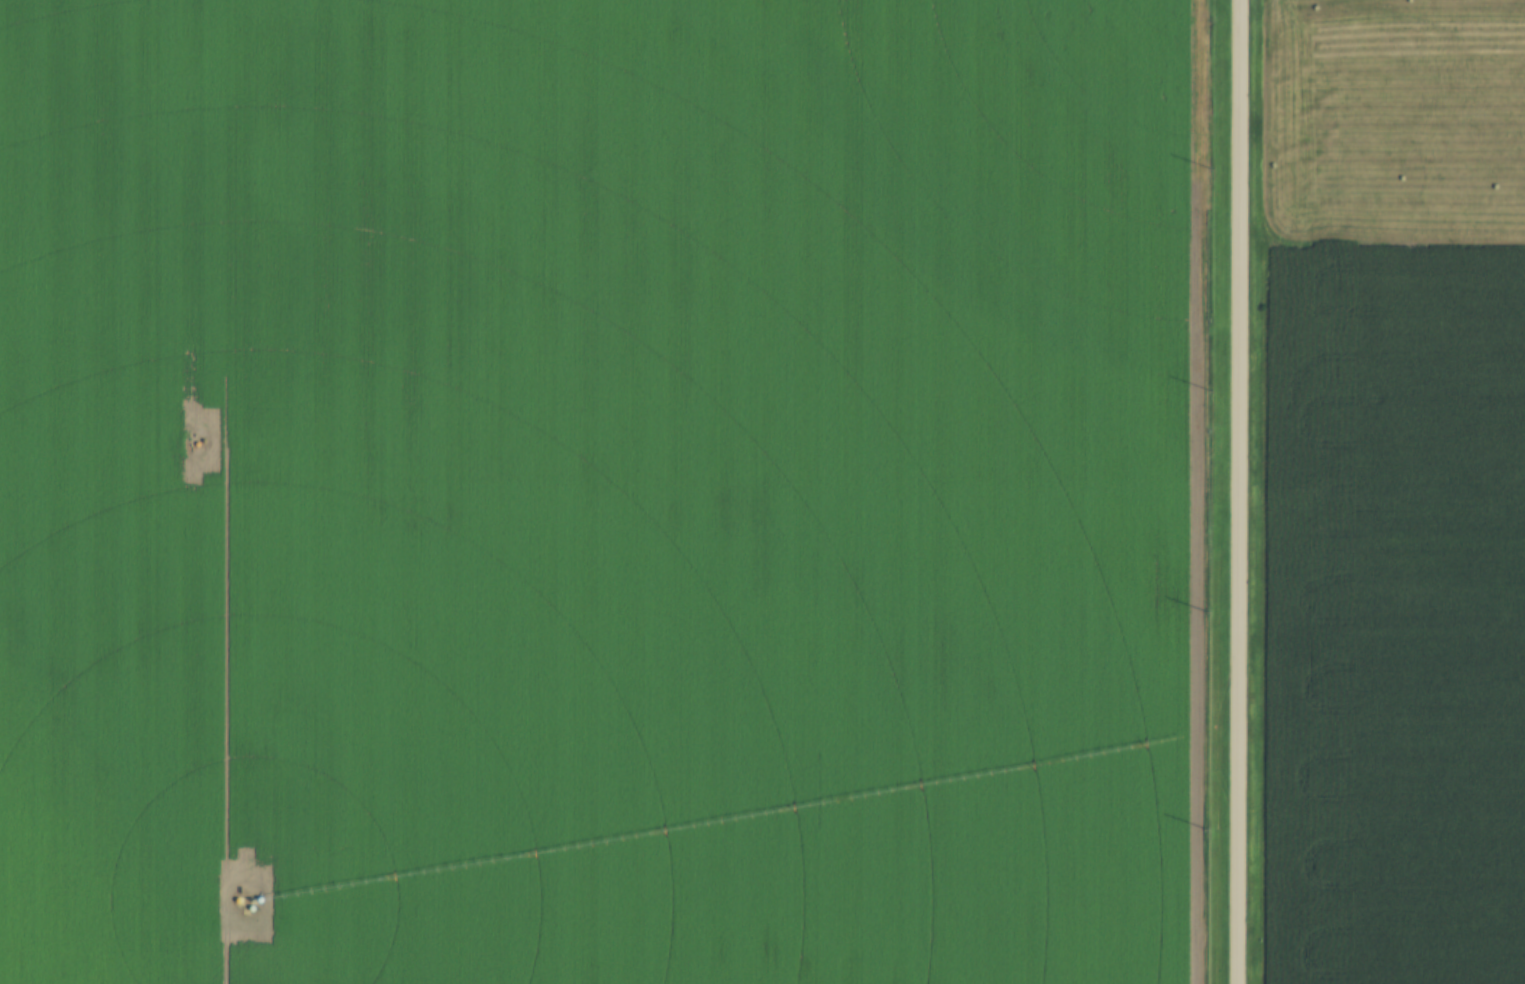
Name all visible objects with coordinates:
road: (1241, 492)

